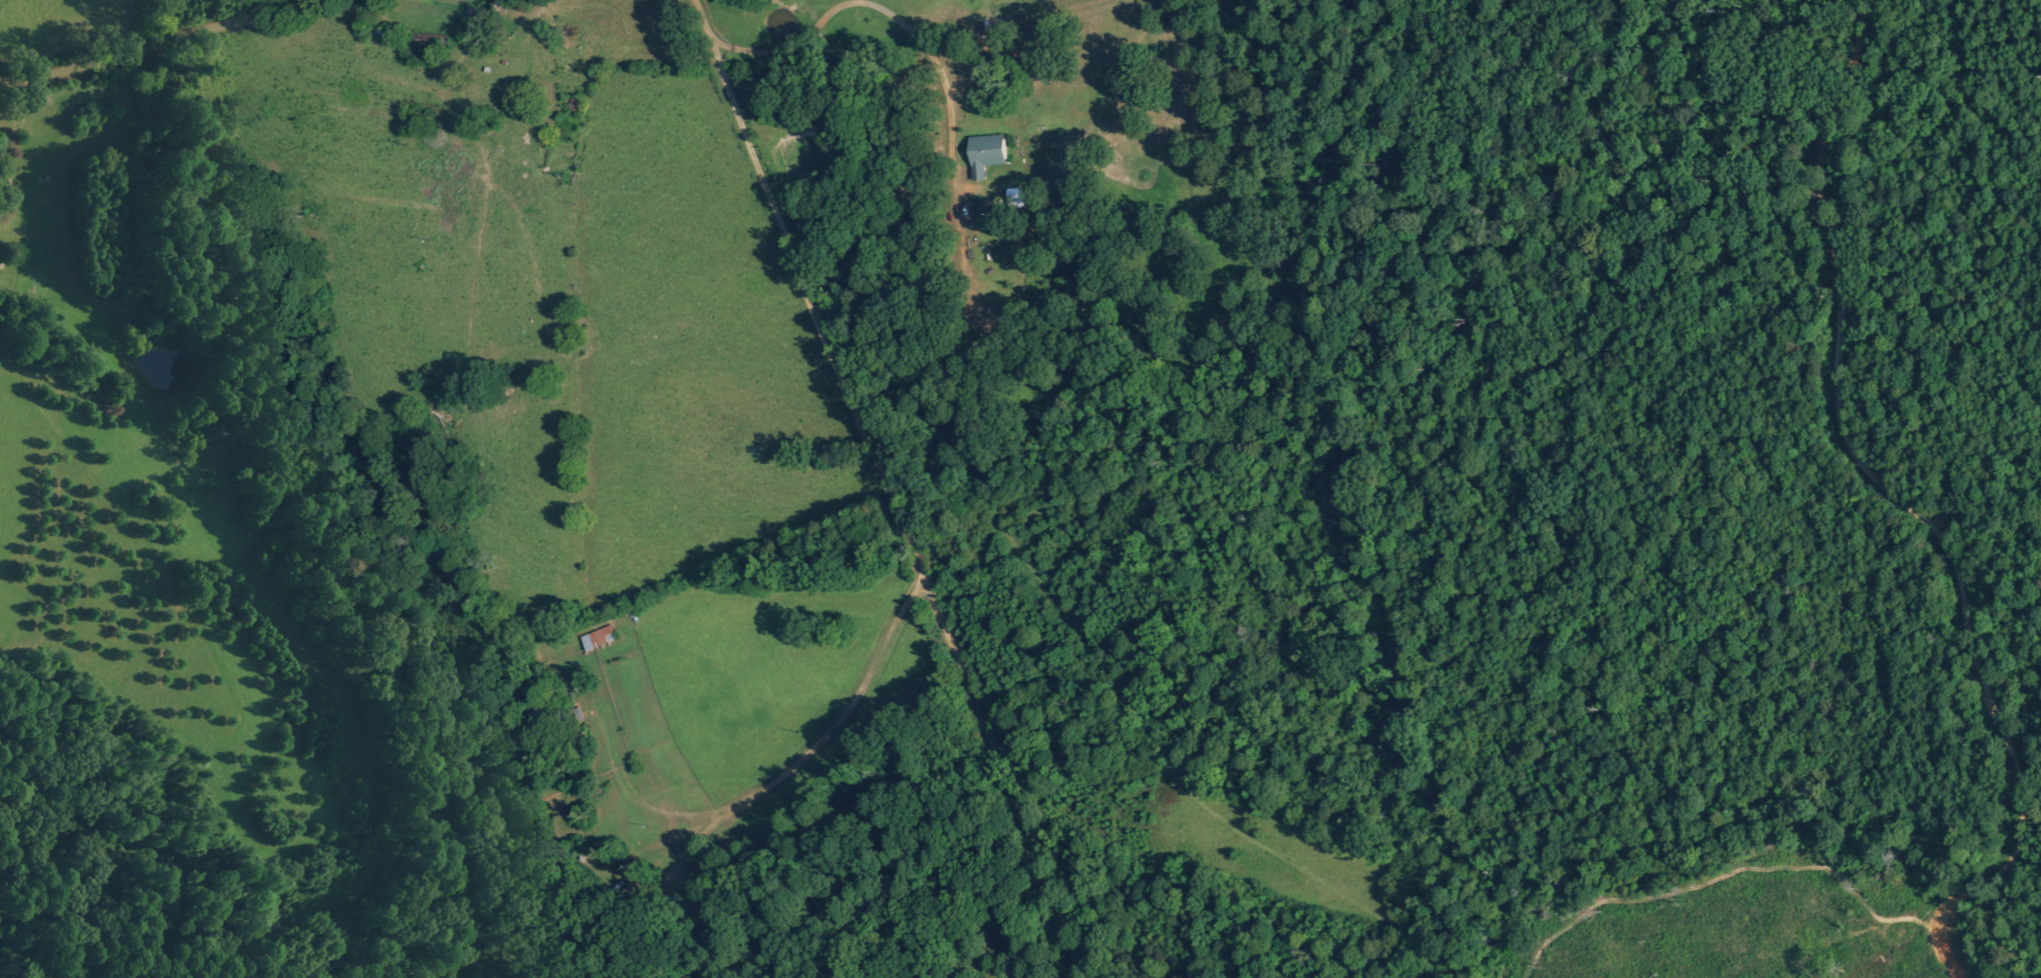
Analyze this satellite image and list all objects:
road: (150, 43)
building: (985, 154)
road: (886, 489)
building: (598, 639)

